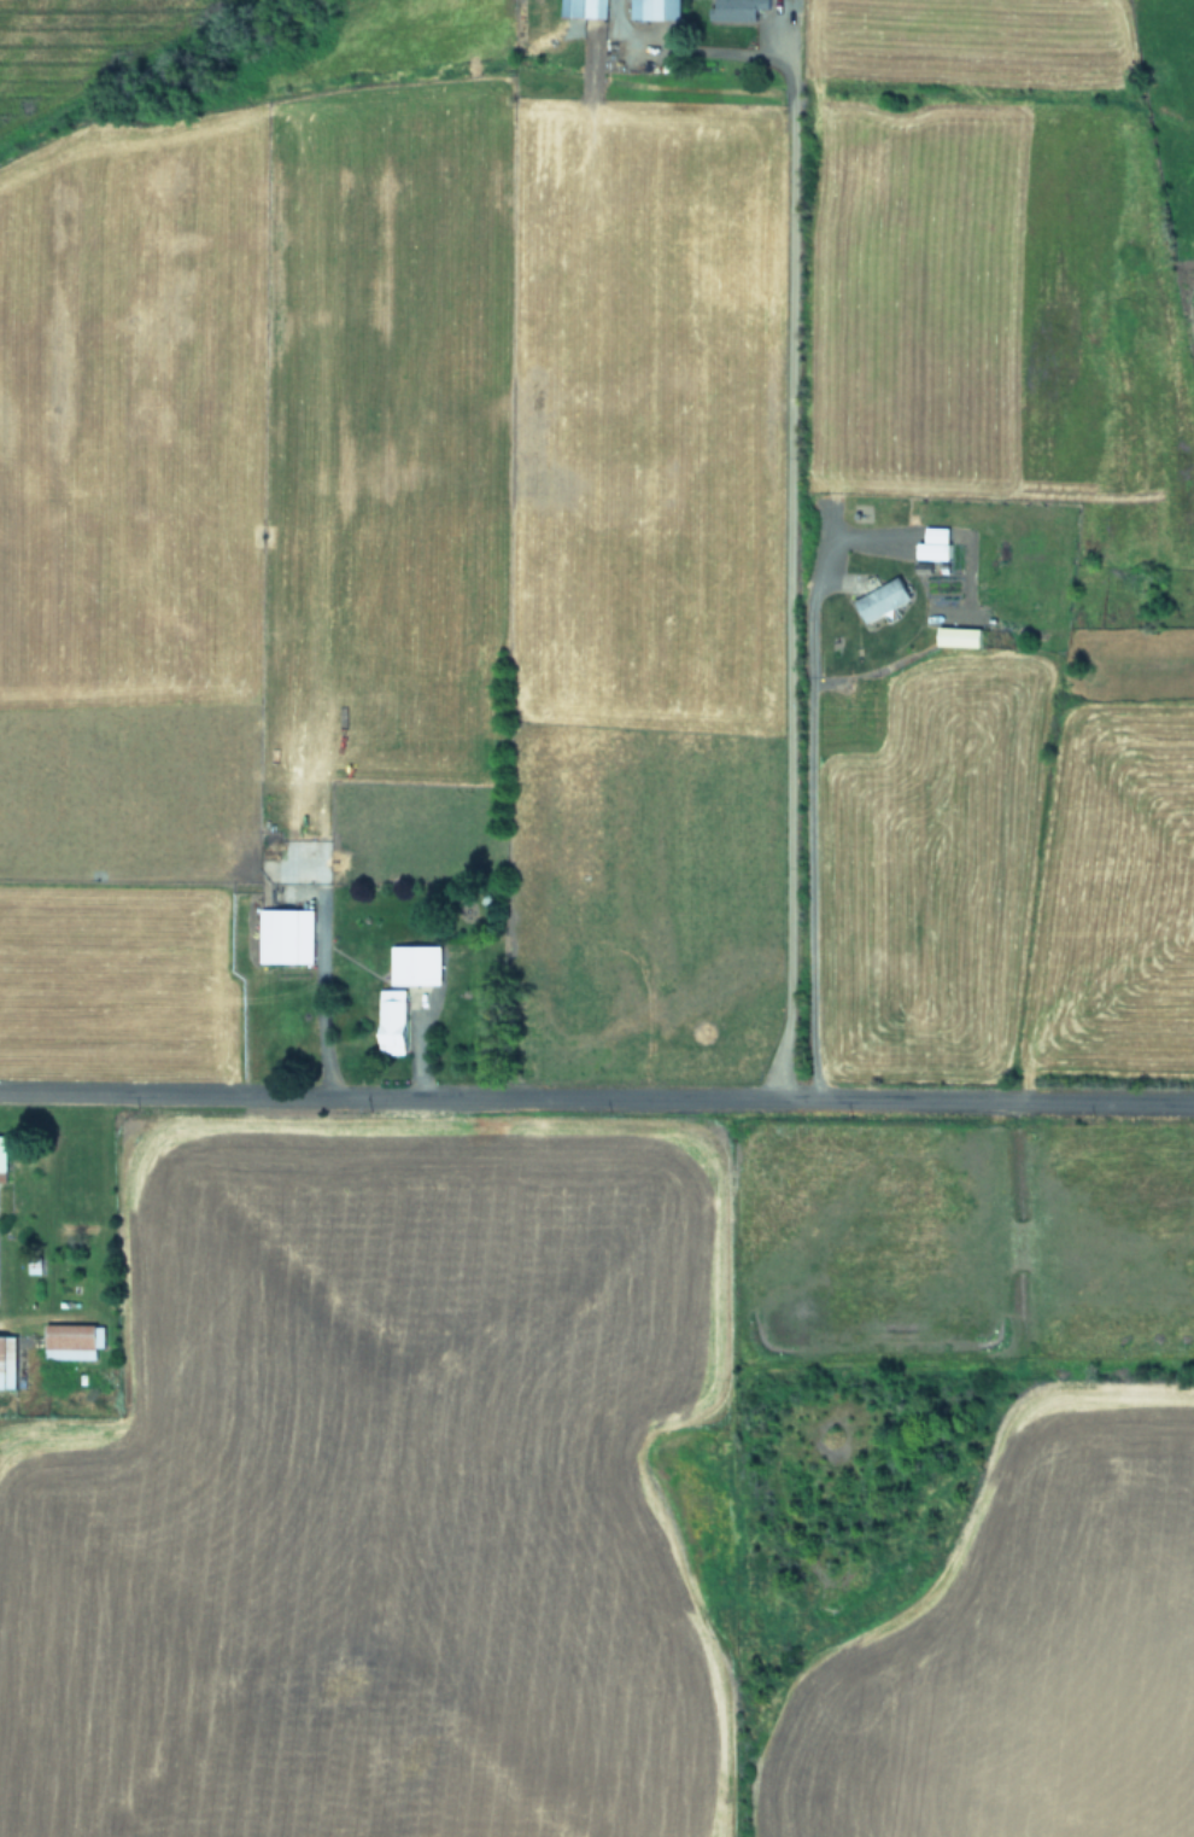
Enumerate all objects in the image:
building: (587, 8)
building: (659, 8)
building: (739, 10)
road: (789, 479)
building: (937, 543)
building: (884, 599)
building: (961, 636)
road: (806, 803)
crop: (597, 918)
building: (288, 935)
building: (420, 964)
building: (396, 1021)
road: (597, 1098)
building: (4, 1151)
building: (74, 1340)
building: (8, 1360)

